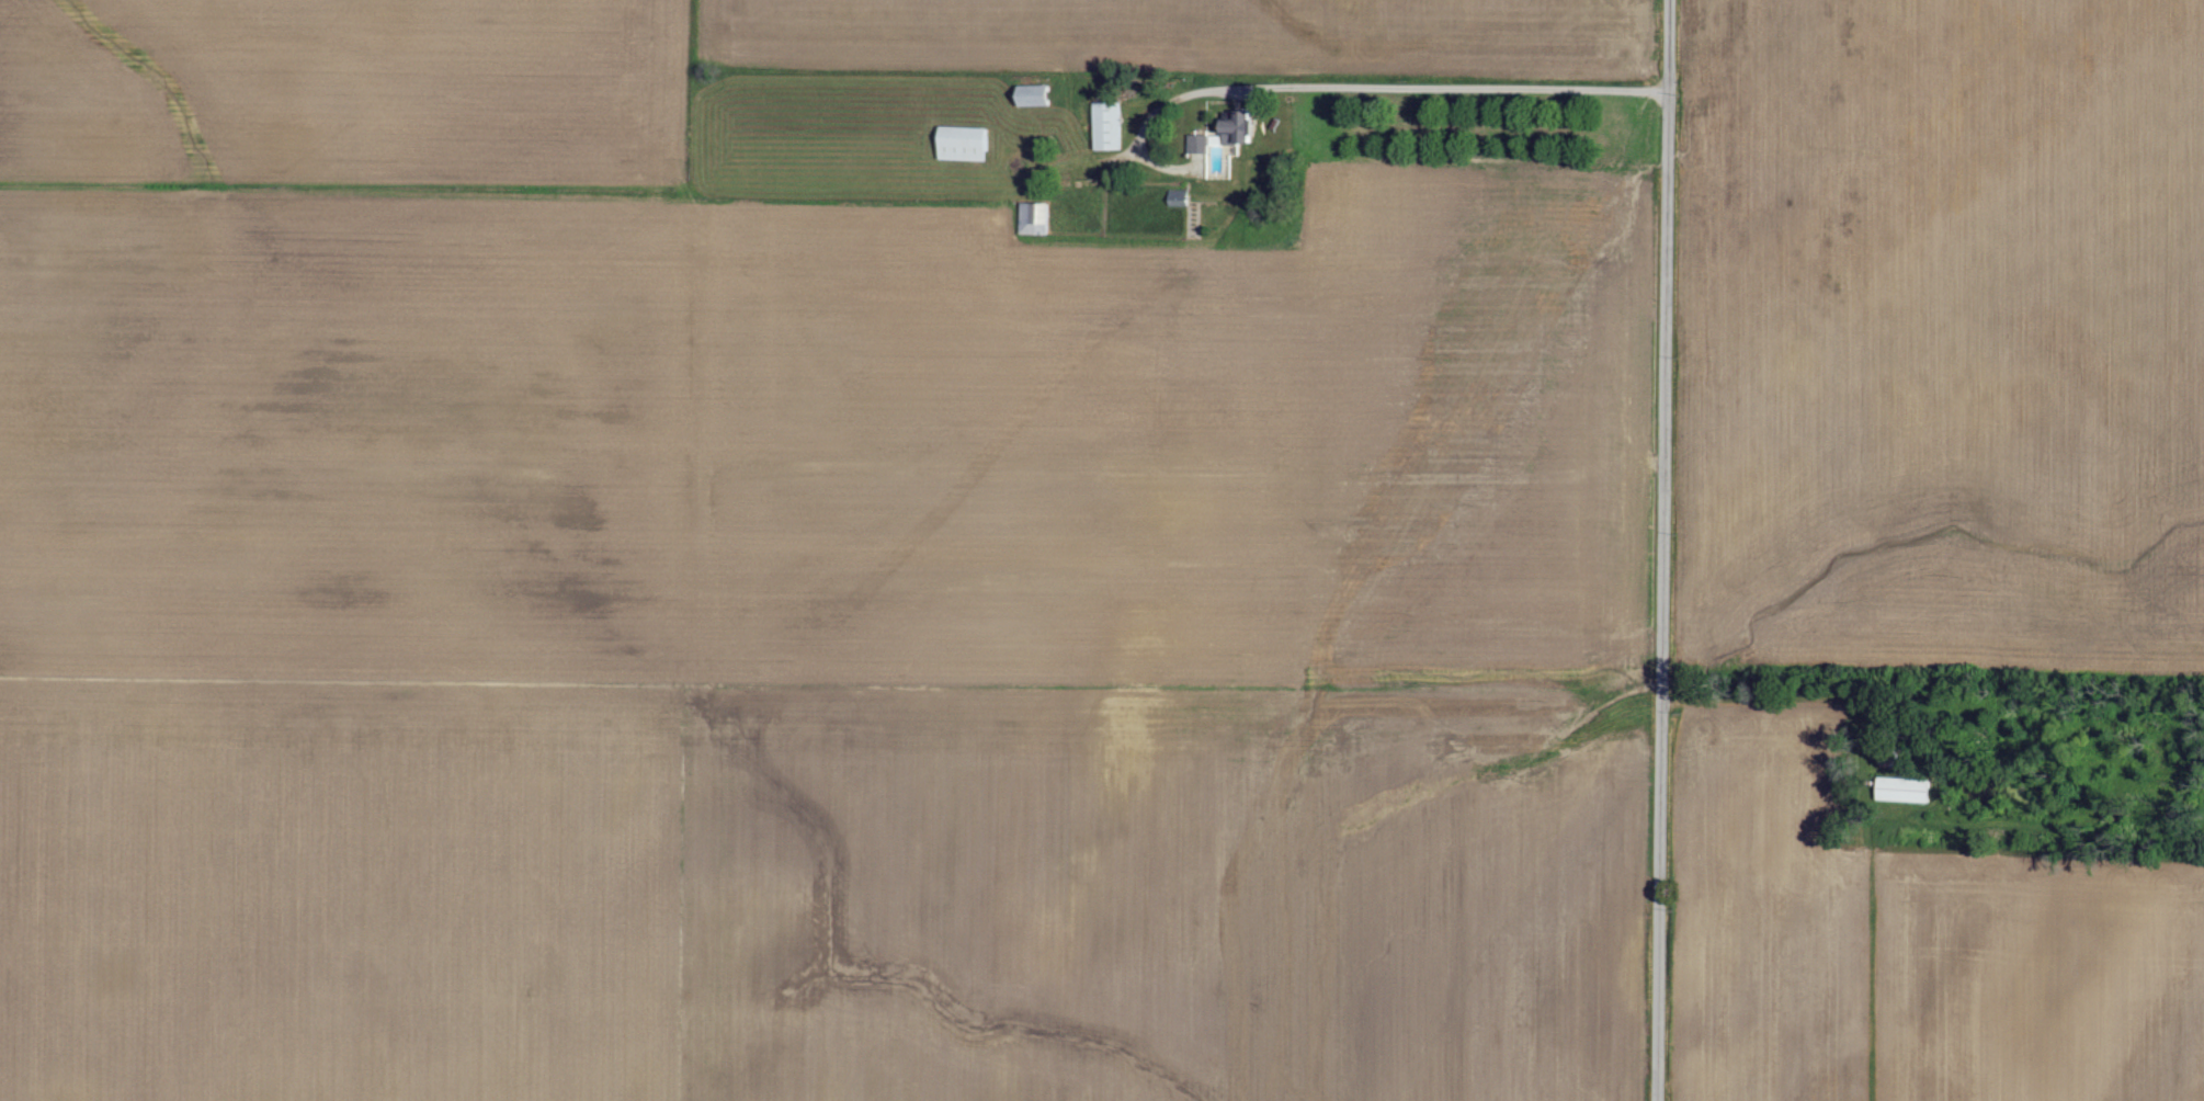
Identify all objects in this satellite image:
road: (1353, 94)
building: (1104, 127)
building: (1217, 135)
building: (961, 145)
road: (1661, 550)
building: (1901, 790)

